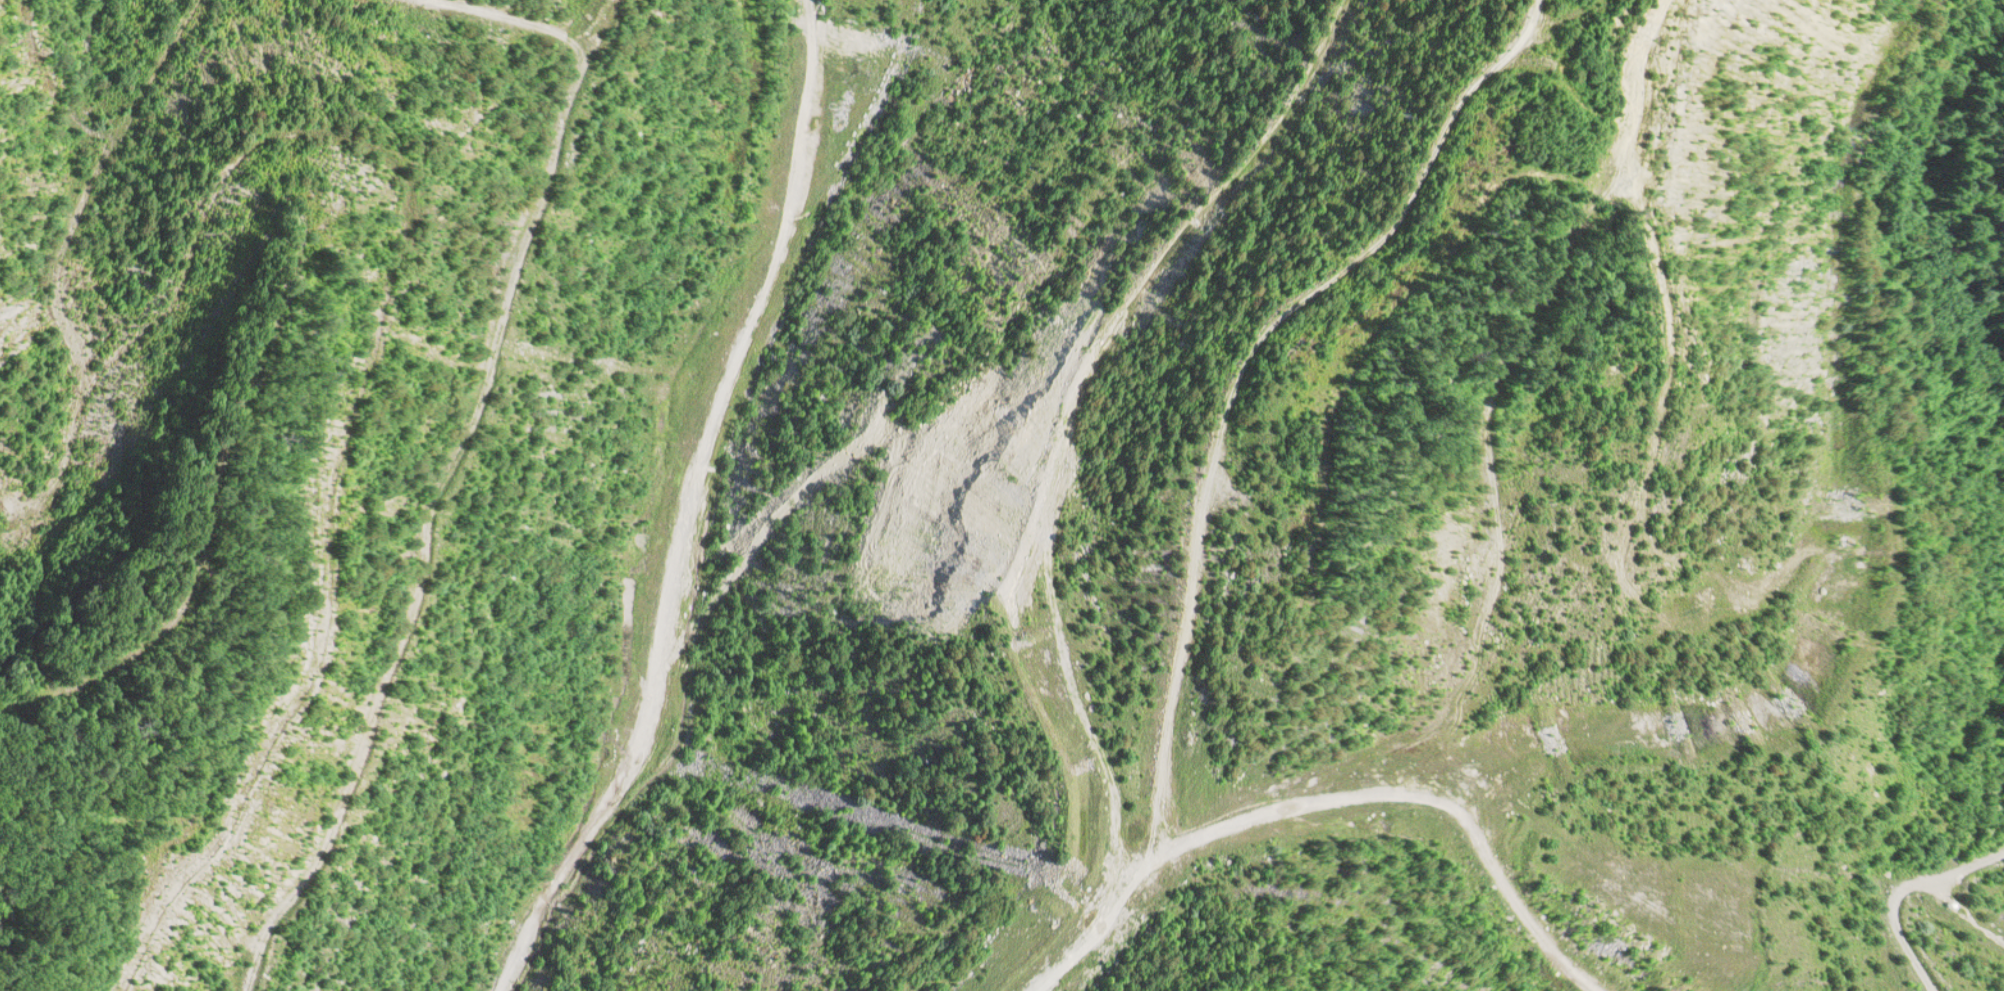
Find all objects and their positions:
quarry: (1002, 495)

